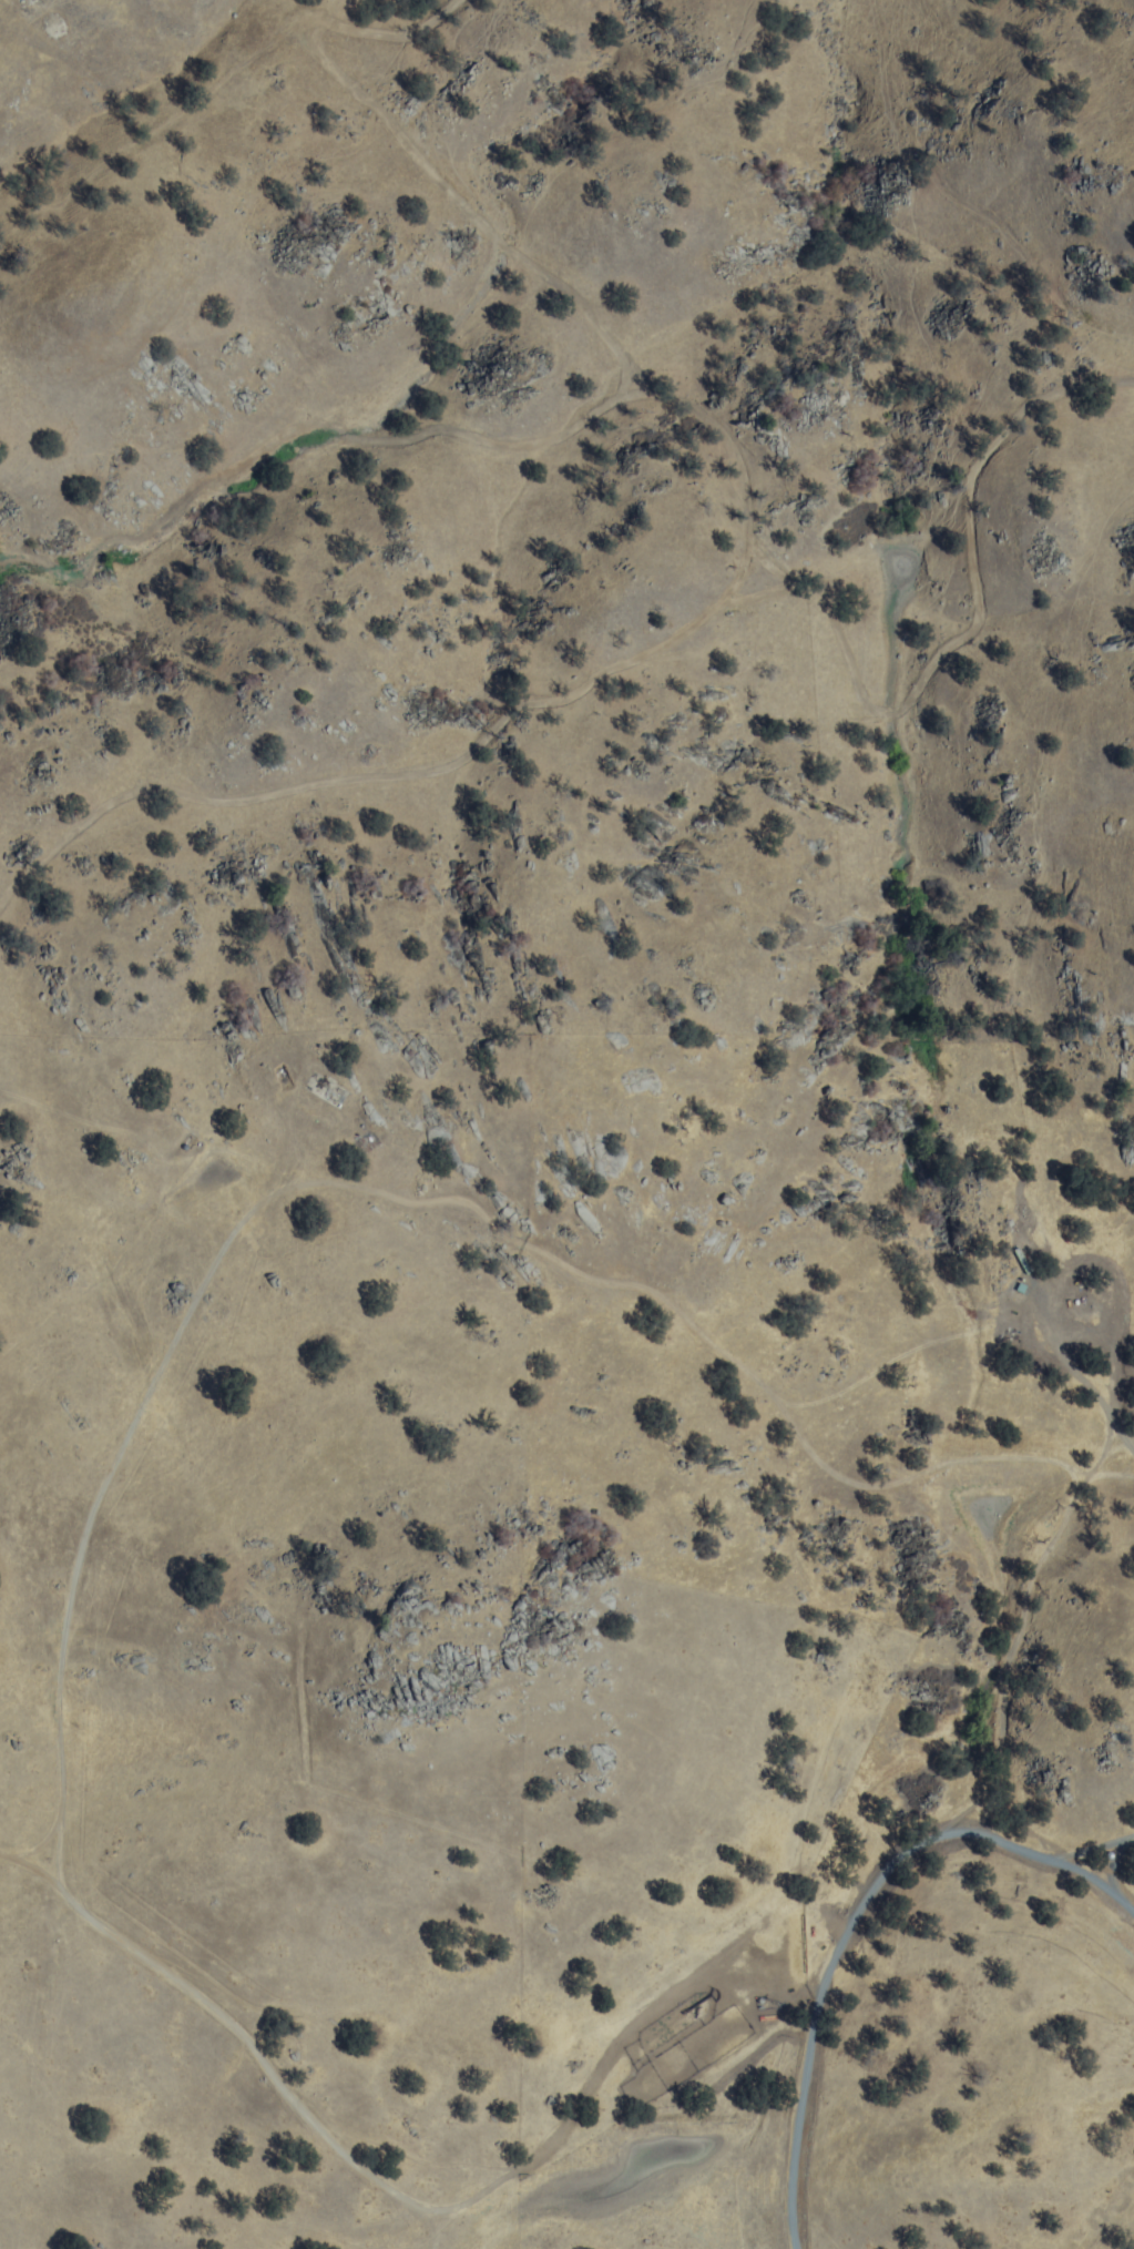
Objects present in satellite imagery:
road: (851, 1917)

